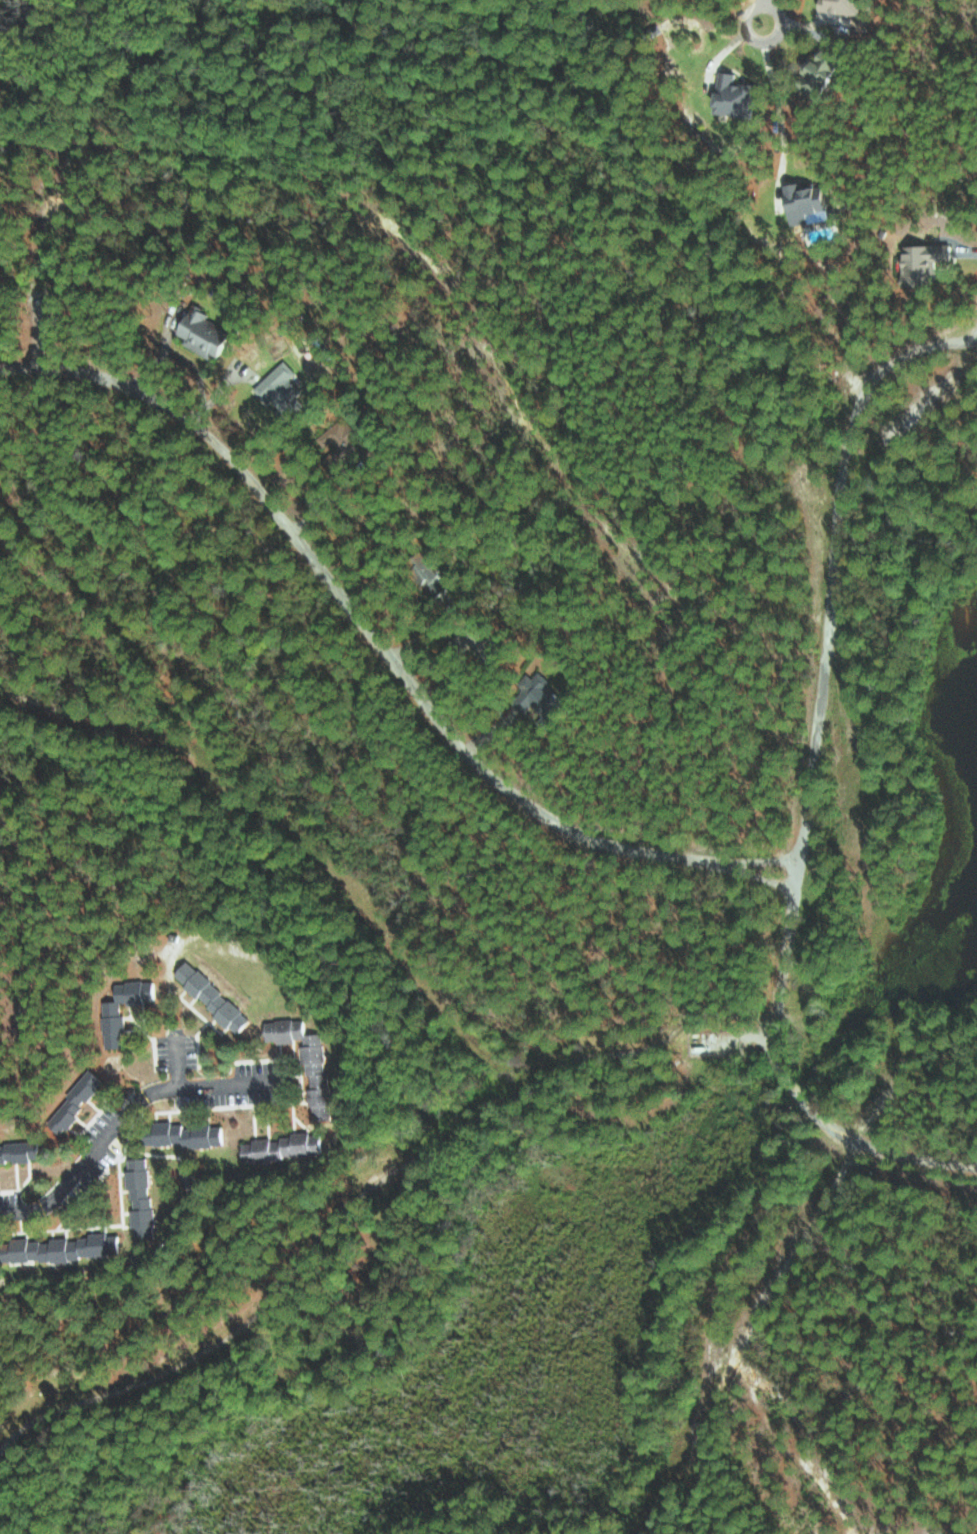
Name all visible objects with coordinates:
building: (843, 5)
road: (762, 12)
building: (826, 73)
building: (737, 95)
road: (778, 110)
building: (809, 201)
building: (926, 260)
building: (207, 333)
building: (282, 388)
building: (343, 437)
road: (833, 576)
building: (469, 639)
road: (382, 650)
building: (548, 697)
building: (214, 998)
building: (114, 1031)
building: (310, 1063)
road: (791, 1089)
building: (75, 1102)
road: (119, 1121)
building: (185, 1135)
building: (285, 1148)
building: (20, 1153)
building: (142, 1197)
building: (64, 1248)
building: (810, 1533)

